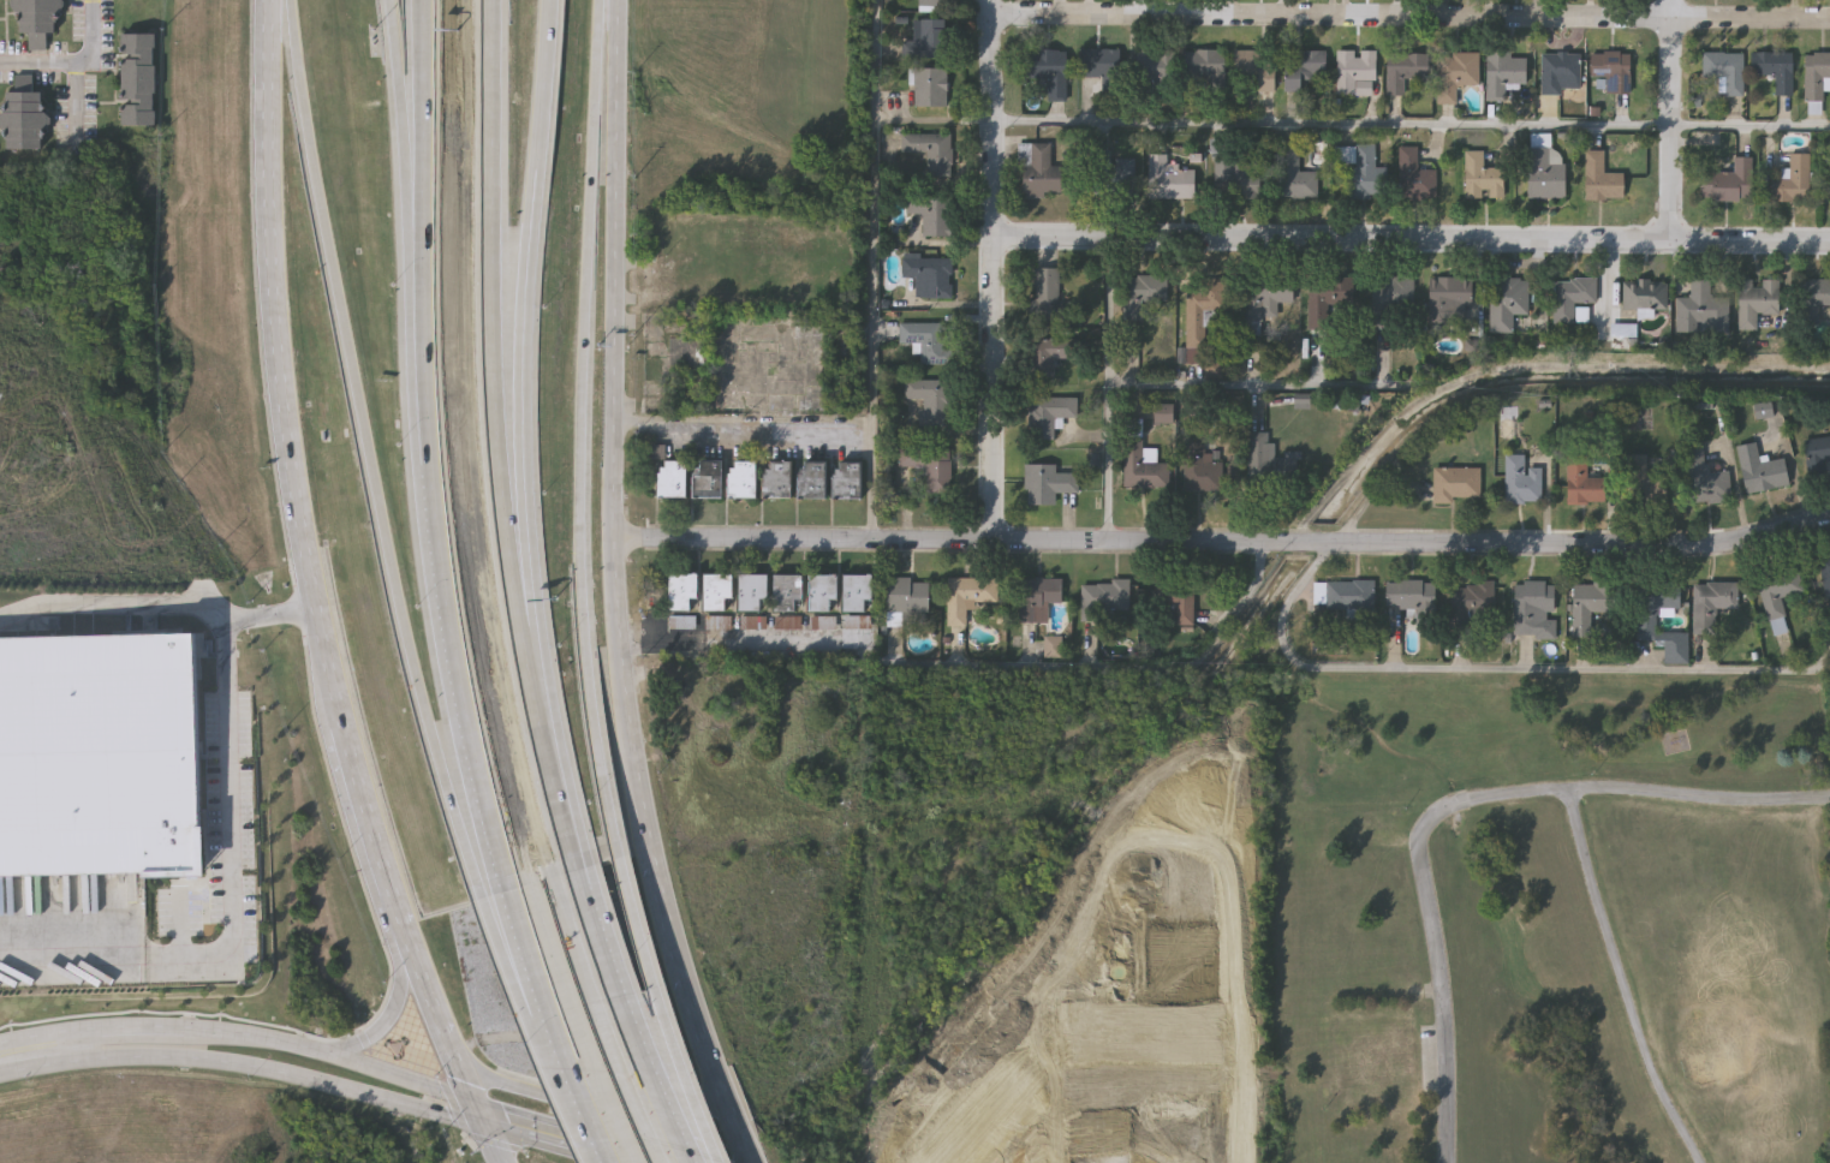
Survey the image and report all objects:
building: (929, 4)
road: (1409, 14)
building: (32, 20)
building: (925, 42)
road: (74, 64)
building: (1096, 65)
building: (1203, 65)
building: (1155, 66)
building: (1301, 68)
building: (1256, 71)
building: (1048, 72)
building: (1403, 72)
building: (1725, 72)
building: (1775, 72)
building: (1354, 73)
building: (1613, 73)
building: (1560, 76)
building: (1455, 77)
building: (1503, 77)
building: (135, 78)
building: (1816, 78)
building: (929, 89)
road: (401, 109)
road: (422, 109)
building: (20, 119)
road: (1671, 119)
road: (934, 121)
road: (1409, 125)
building: (930, 154)
building: (1038, 174)
building: (1357, 174)
building: (1294, 177)
building: (1414, 178)
building: (1482, 179)
building: (1156, 180)
building: (1600, 180)
building: (1236, 181)
building: (1793, 184)
building: (1728, 185)
building: (930, 215)
road: (1411, 237)
road: (529, 256)
road: (875, 270)
road: (993, 270)
building: (926, 276)
building: (1576, 294)
building: (1141, 296)
building: (1645, 296)
building: (1048, 298)
building: (1447, 298)
building: (1264, 300)
building: (1814, 300)
building: (1390, 302)
building: (1756, 303)
building: (1325, 305)
building: (1507, 305)
building: (1703, 311)
building: (1200, 316)
road: (493, 332)
building: (924, 341)
building: (1047, 358)
road: (1244, 387)
road: (1109, 389)
building: (930, 401)
building: (1047, 416)
building: (1162, 416)
road: (743, 427)
road: (578, 430)
road: (371, 453)
building: (1817, 453)
building: (1268, 463)
building: (928, 467)
building: (1140, 467)
building: (1199, 469)
building: (1759, 471)
building: (669, 481)
building: (704, 481)
building: (739, 481)
building: (774, 481)
building: (1703, 481)
building: (809, 482)
building: (845, 482)
building: (1644, 483)
building: (1521, 484)
building: (1581, 484)
building: (1045, 485)
building: (1456, 485)
road: (946, 542)
road: (1307, 543)
road: (1582, 548)
road: (441, 559)
building: (1825, 569)
road: (531, 588)
road: (615, 590)
building: (715, 591)
building: (750, 591)
building: (785, 591)
building: (819, 592)
building: (857, 592)
building: (1407, 592)
road: (314, 595)
building: (1346, 596)
building: (906, 597)
building: (970, 597)
building: (1037, 597)
building: (1105, 597)
building: (1176, 598)
building: (1776, 598)
building: (679, 602)
building: (1710, 602)
building: (1584, 606)
building: (1474, 607)
building: (1532, 608)
road: (269, 613)
building: (204, 618)
building: (1643, 620)
building: (717, 621)
road: (743, 646)
road: (1111, 669)
road: (1501, 670)
building: (101, 755)
road: (559, 768)
road: (231, 783)
road: (1616, 789)
road: (180, 920)
park: (1552, 920)
road: (537, 964)
road: (526, 967)
road: (1620, 980)
road: (1441, 1000)
road: (670, 1010)
road: (642, 1019)
road: (383, 1022)
road: (127, 1036)
road: (36, 1056)
road: (334, 1060)
road: (276, 1073)
road: (590, 1099)
road: (598, 1114)
traffic signals: (477, 1115)
road: (560, 1139)

